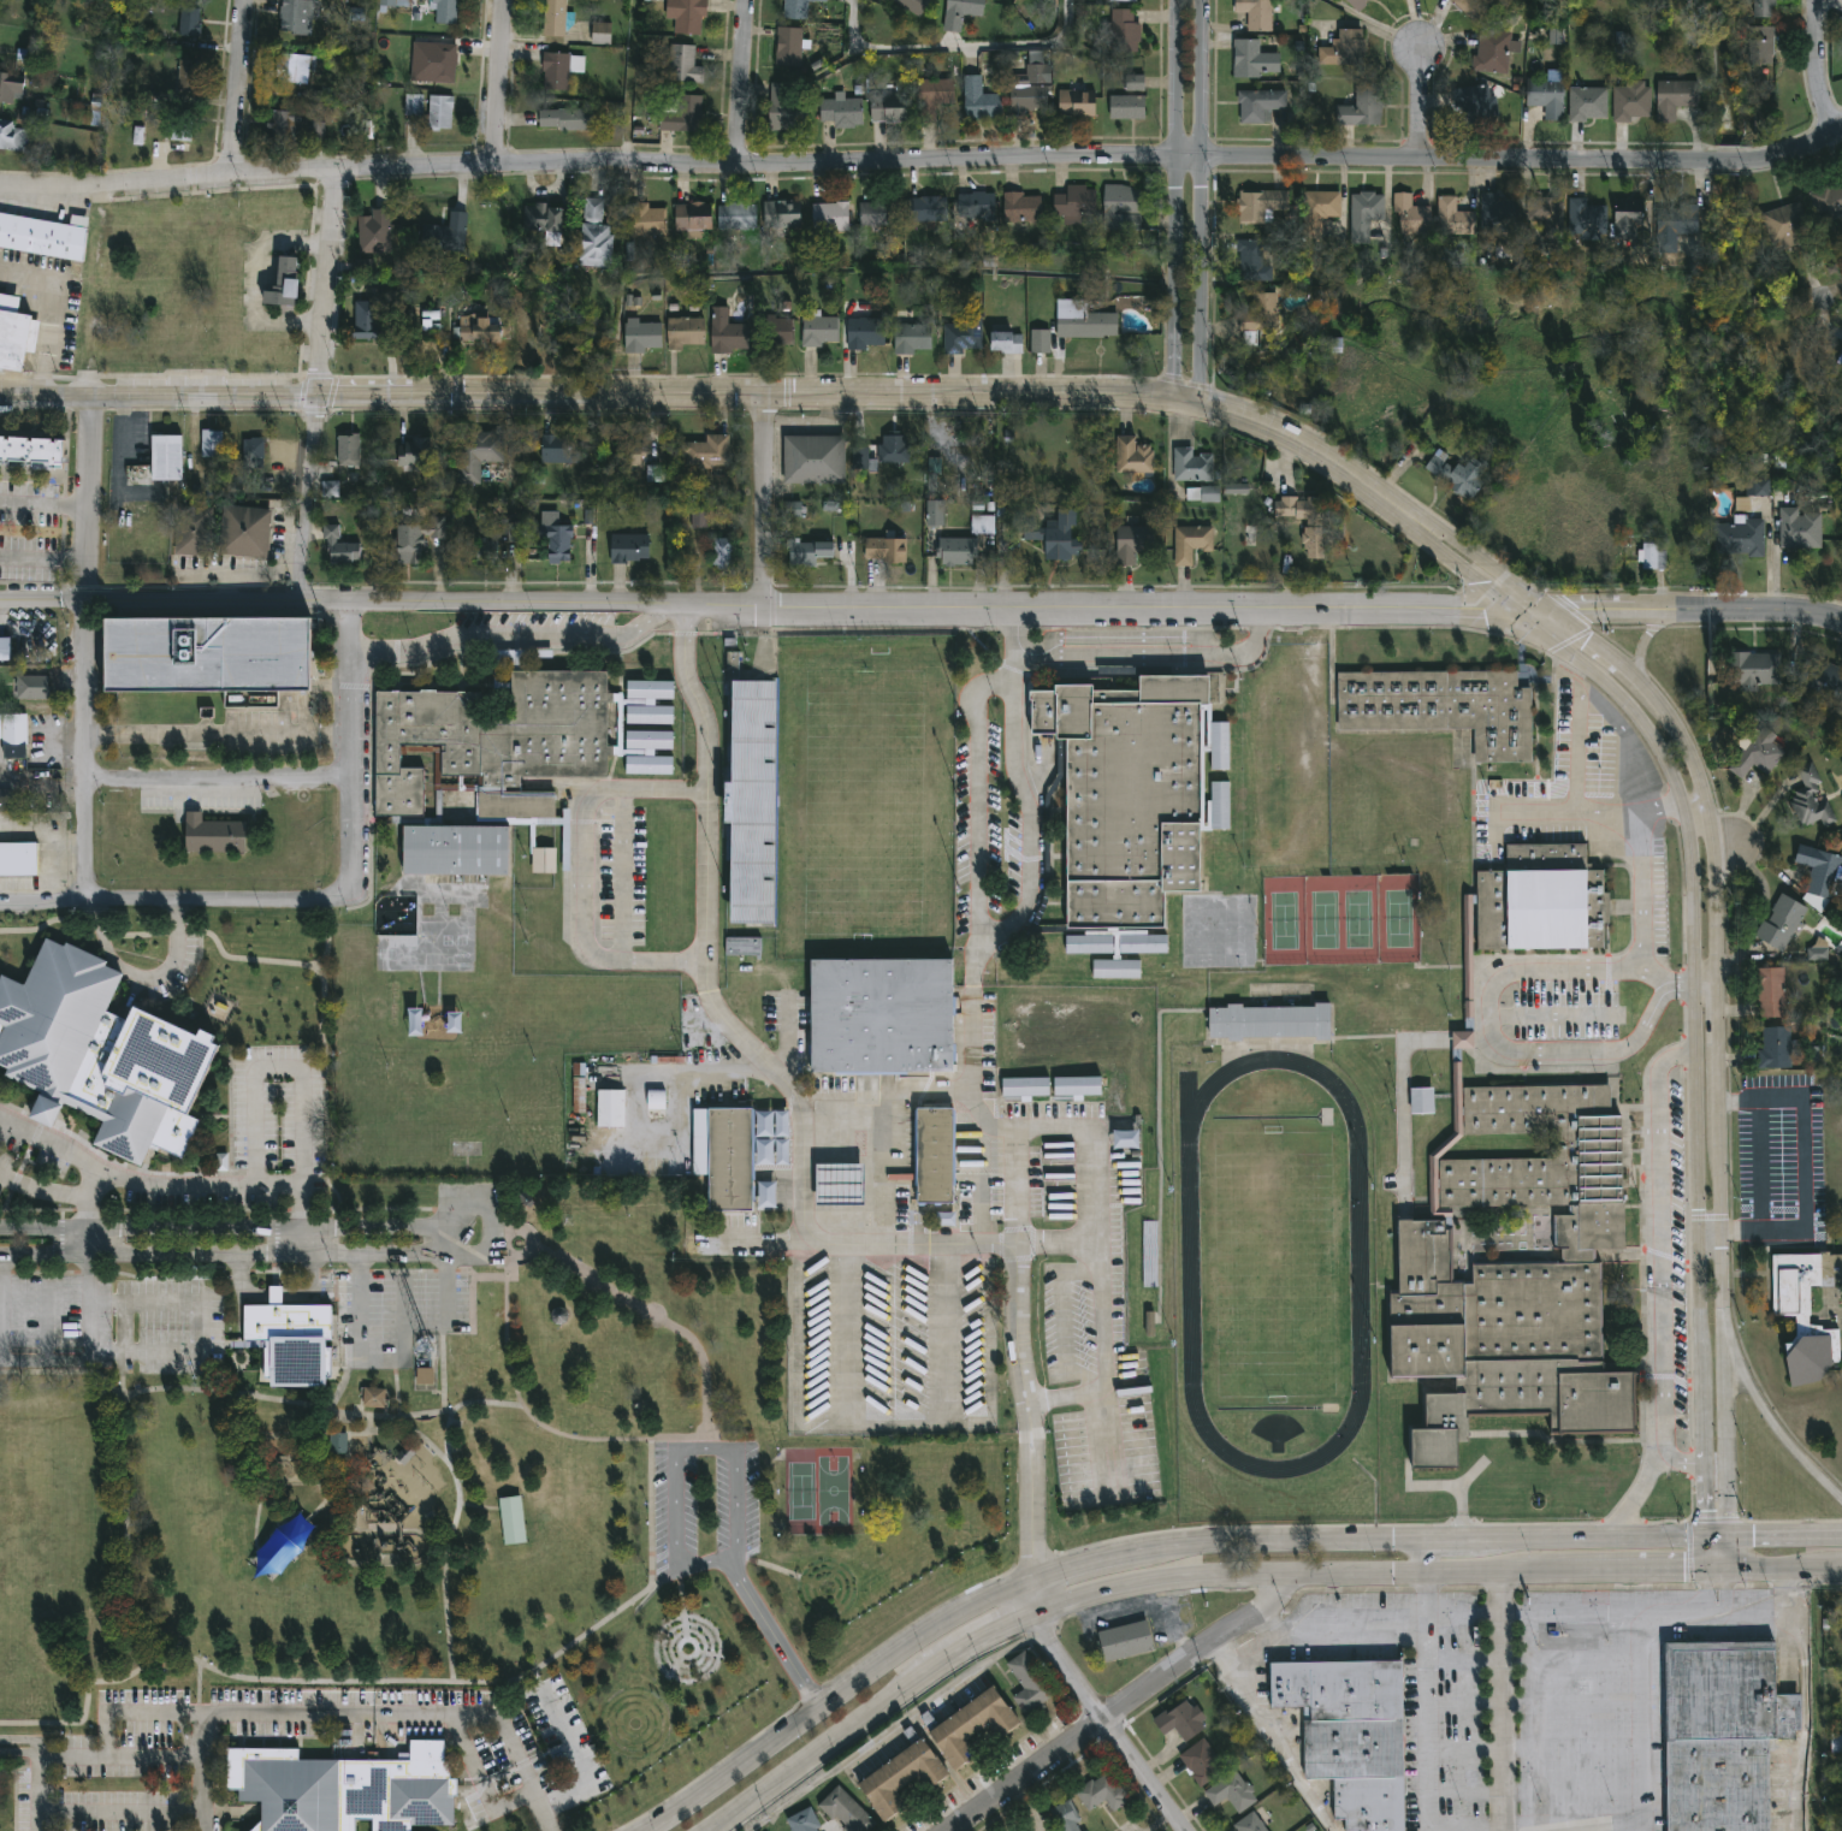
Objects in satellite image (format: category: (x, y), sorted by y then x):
building: (1124, 1)
road: (1828, 2)
building: (1360, 4)
building: (393, 5)
building: (914, 6)
building: (1474, 8)
building: (798, 10)
building: (1766, 10)
building: (445, 11)
building: (963, 12)
building: (1257, 14)
building: (687, 16)
building: (297, 17)
building: (556, 18)
building: (190, 24)
building: (1121, 32)
building: (602, 34)
building: (1554, 36)
road: (959, 46)
building: (1763, 46)
building: (790, 48)
building: (1348, 49)
building: (1494, 52)
building: (1254, 60)
building: (443, 63)
building: (296, 64)
building: (685, 65)
road: (1818, 67)
building: (556, 72)
building: (188, 76)
road: (496, 81)
road: (746, 83)
building: (1135, 83)
road: (236, 85)
building: (1029, 87)
building: (11, 88)
building: (1548, 96)
building: (932, 97)
building: (1676, 97)
building: (981, 100)
building: (1078, 101)
building: (1629, 101)
building: (1588, 102)
road: (1418, 103)
building: (414, 105)
building: (890, 105)
building: (1477, 105)
building: (1261, 106)
building: (1127, 107)
building: (786, 109)
building: (1363, 109)
building: (842, 111)
building: (440, 113)
building: (683, 117)
building: (567, 118)
building: (284, 126)
building: (182, 130)
building: (316, 131)
building: (11, 136)
building: (138, 136)
road: (923, 156)
road: (1174, 200)
building: (977, 202)
building: (1076, 202)
road: (1200, 202)
building: (1263, 205)
building: (1023, 207)
building: (1123, 207)
building: (928, 209)
building: (1830, 209)
building: (878, 212)
building: (1320, 212)
building: (783, 213)
building: (738, 214)
building: (1412, 214)
building: (1629, 214)
building: (1368, 215)
building: (1500, 215)
building: (1548, 215)
building: (544, 217)
building: (694, 218)
building: (830, 218)
building: (1455, 218)
building: (1588, 218)
building: (647, 219)
building: (1676, 224)
building: (1791, 225)
building: (375, 231)
building: (443, 236)
building: (596, 236)
building: (45, 238)
building: (1254, 253)
building: (363, 269)
road: (327, 280)
road: (254, 282)
building: (284, 284)
building: (1264, 309)
road: (51, 315)
building: (366, 319)
building: (1084, 320)
building: (818, 328)
building: (481, 330)
building: (685, 331)
building: (728, 332)
building: (775, 332)
building: (866, 332)
building: (16, 333)
building: (964, 334)
building: (642, 336)
building: (913, 338)
building: (1041, 340)
building: (1008, 342)
building: (1335, 345)
road: (709, 393)
building: (211, 443)
building: (254, 448)
building: (895, 448)
building: (31, 449)
building: (349, 450)
building: (559, 450)
building: (707, 451)
building: (629, 452)
building: (415, 454)
building: (478, 455)
building: (1135, 456)
building: (164, 458)
building: (815, 460)
building: (863, 460)
building: (1192, 464)
building: (934, 467)
building: (1461, 473)
building: (653, 474)
building: (1757, 487)
building: (330, 488)
building: (1237, 490)
building: (1194, 494)
building: (1210, 494)
road: (309, 498)
road: (766, 499)
road: (45, 503)
building: (1742, 504)
building: (794, 509)
building: (936, 512)
building: (699, 520)
building: (1308, 521)
building: (983, 523)
building: (1801, 528)
building: (194, 529)
building: (243, 531)
building: (514, 533)
building: (1061, 535)
building: (416, 539)
building: (1740, 539)
building: (557, 540)
building: (1133, 543)
building: (1192, 543)
building: (340, 547)
building: (888, 547)
building: (629, 549)
building: (807, 551)
building: (958, 551)
road: (1473, 551)
building: (487, 552)
building: (723, 552)
building: (1652, 557)
road: (1450, 558)
road: (43, 559)
traffic signals: (1482, 583)
road: (754, 605)
traffic signals: (1485, 606)
road: (1530, 608)
traffic signals: (1575, 608)
road: (1696, 609)
road: (510, 634)
road: (1642, 636)
traffic signals: (1586, 638)
building: (5, 650)
road: (84, 652)
building: (207, 654)
road: (1156, 656)
building: (732, 664)
building: (1757, 669)
building: (1819, 680)
building: (31, 687)
building: (648, 692)
road: (695, 697)
building: (1444, 707)
building: (650, 715)
building: (13, 728)
road: (217, 734)
building: (650, 741)
road: (349, 748)
road: (1577, 751)
building: (1763, 757)
building: (487, 762)
road: (1670, 764)
building: (650, 765)
road: (1696, 766)
road: (41, 783)
road: (217, 788)
building: (1137, 793)
building: (1812, 800)
building: (5, 801)
park: (864, 801)
building: (752, 802)
road: (1695, 802)
road: (1591, 812)
building: (213, 834)
road: (623, 836)
building: (18, 858)
building: (544, 860)
road: (706, 875)
building: (1822, 876)
road: (1641, 891)
road: (173, 906)
building: (1783, 922)
road: (997, 936)
building: (1089, 944)
building: (1143, 944)
building: (742, 947)
building: (1817, 952)
road: (664, 962)
building: (1117, 968)
road: (1545, 968)
road: (143, 977)
road: (1657, 978)
road: (1705, 986)
road: (1680, 988)
building: (1772, 991)
building: (882, 1014)
building: (1269, 1023)
building: (1778, 1049)
road: (1589, 1051)
building: (1813, 1054)
building: (99, 1055)
road: (675, 1067)
road: (272, 1069)
building: (1077, 1085)
building: (1025, 1086)
building: (578, 1096)
building: (656, 1100)
building: (1422, 1101)
building: (611, 1108)
road: (1698, 1114)
road: (1718, 1114)
parking lot: (277, 1132)
building: (934, 1154)
road: (78, 1155)
building: (1588, 1155)
building: (730, 1157)
road: (1803, 1168)
building: (839, 1183)
road: (804, 1184)
road: (219, 1187)
road: (46, 1191)
building: (766, 1195)
building: (525, 1203)
building: (946, 1219)
road: (219, 1228)
road: (1658, 1234)
road: (449, 1239)
road: (1053, 1240)
road: (1711, 1242)
building: (1149, 1249)
road: (219, 1252)
road: (1091, 1269)
road: (448, 1308)
parking lot: (392, 1314)
building: (1805, 1314)
parking lot: (108, 1325)
building: (1149, 1325)
building: (291, 1339)
road: (173, 1355)
road: (369, 1358)
building: (425, 1376)
road: (1704, 1388)
road: (1724, 1388)
road: (1060, 1393)
building: (374, 1398)
road: (327, 1409)
road: (1027, 1412)
road: (1769, 1416)
road: (893, 1429)
building: (338, 1444)
road: (650, 1444)
road: (1682, 1460)
park: (463, 1488)
park: (818, 1492)
road: (1635, 1498)
parking lot: (705, 1507)
traffic signals: (1707, 1510)
building: (511, 1518)
road: (1784, 1535)
road: (1717, 1536)
traffic signals: (1753, 1536)
road: (675, 1540)
road: (445, 1543)
building: (282, 1545)
road: (1136, 1552)
road: (1707, 1554)
road: (1728, 1554)
road: (1422, 1557)
road: (1841, 1570)
road: (1783, 1571)
road: (1635, 1572)
road: (1717, 1572)
road: (1297, 1574)
traffic signals: (1683, 1574)
traffic signals: (1728, 1589)
road: (1728, 1595)
road: (1035, 1596)
road: (1707, 1596)
road: (1581, 1614)
road: (1757, 1617)
road: (1272, 1626)
road: (989, 1634)
road: (1322, 1636)
building: (1125, 1640)
road: (1569, 1658)
building: (1029, 1684)
road: (812, 1694)
parking lot: (1527, 1696)
road: (1803, 1700)
road: (1499, 1702)
road: (1569, 1703)
road: (1129, 1706)
road: (355, 1711)
building: (1178, 1720)
road: (1107, 1723)
building: (970, 1726)
road: (892, 1728)
building: (1722, 1732)
building: (1351, 1734)
road: (1427, 1737)
road: (1272, 1740)
building: (1836, 1742)
road: (827, 1744)
road: (20, 1746)
road: (1570, 1749)
road: (81, 1752)
road: (1640, 1758)
building: (1201, 1762)
building: (899, 1777)
building: (343, 1788)
road: (1570, 1789)
building: (1098, 1791)
building: (1230, 1791)
building: (843, 1811)
road: (120, 1812)
building: (1066, 1815)
building: (802, 1821)
building: (1248, 1824)
building: (1021, 1830)
building: (1086, 1830)

